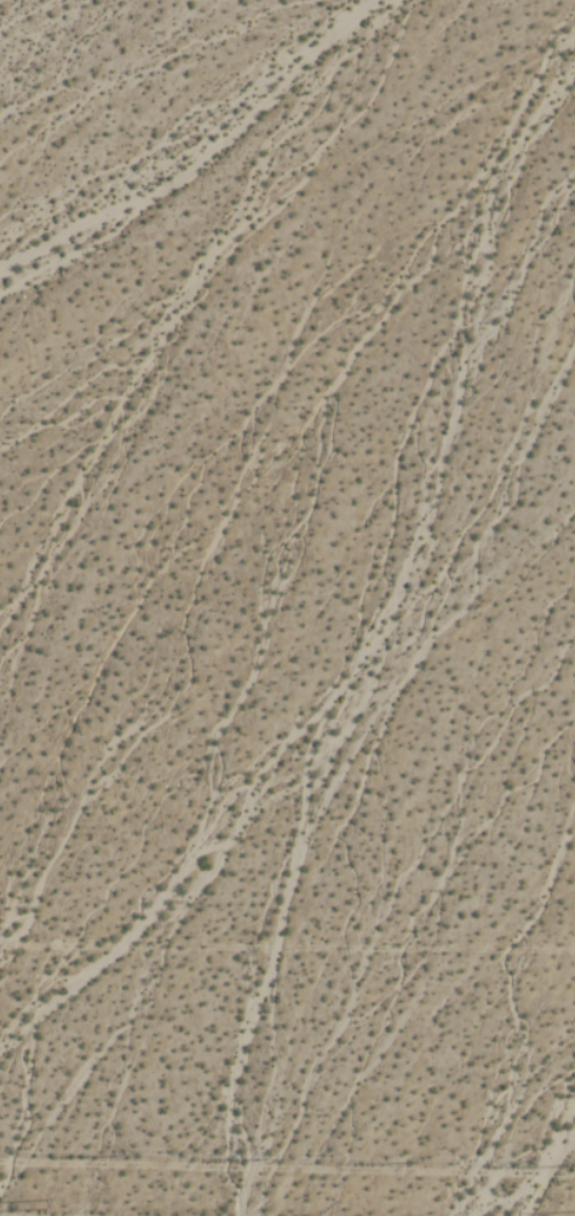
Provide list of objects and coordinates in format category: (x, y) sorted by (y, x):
power tower: (46, 1203)

